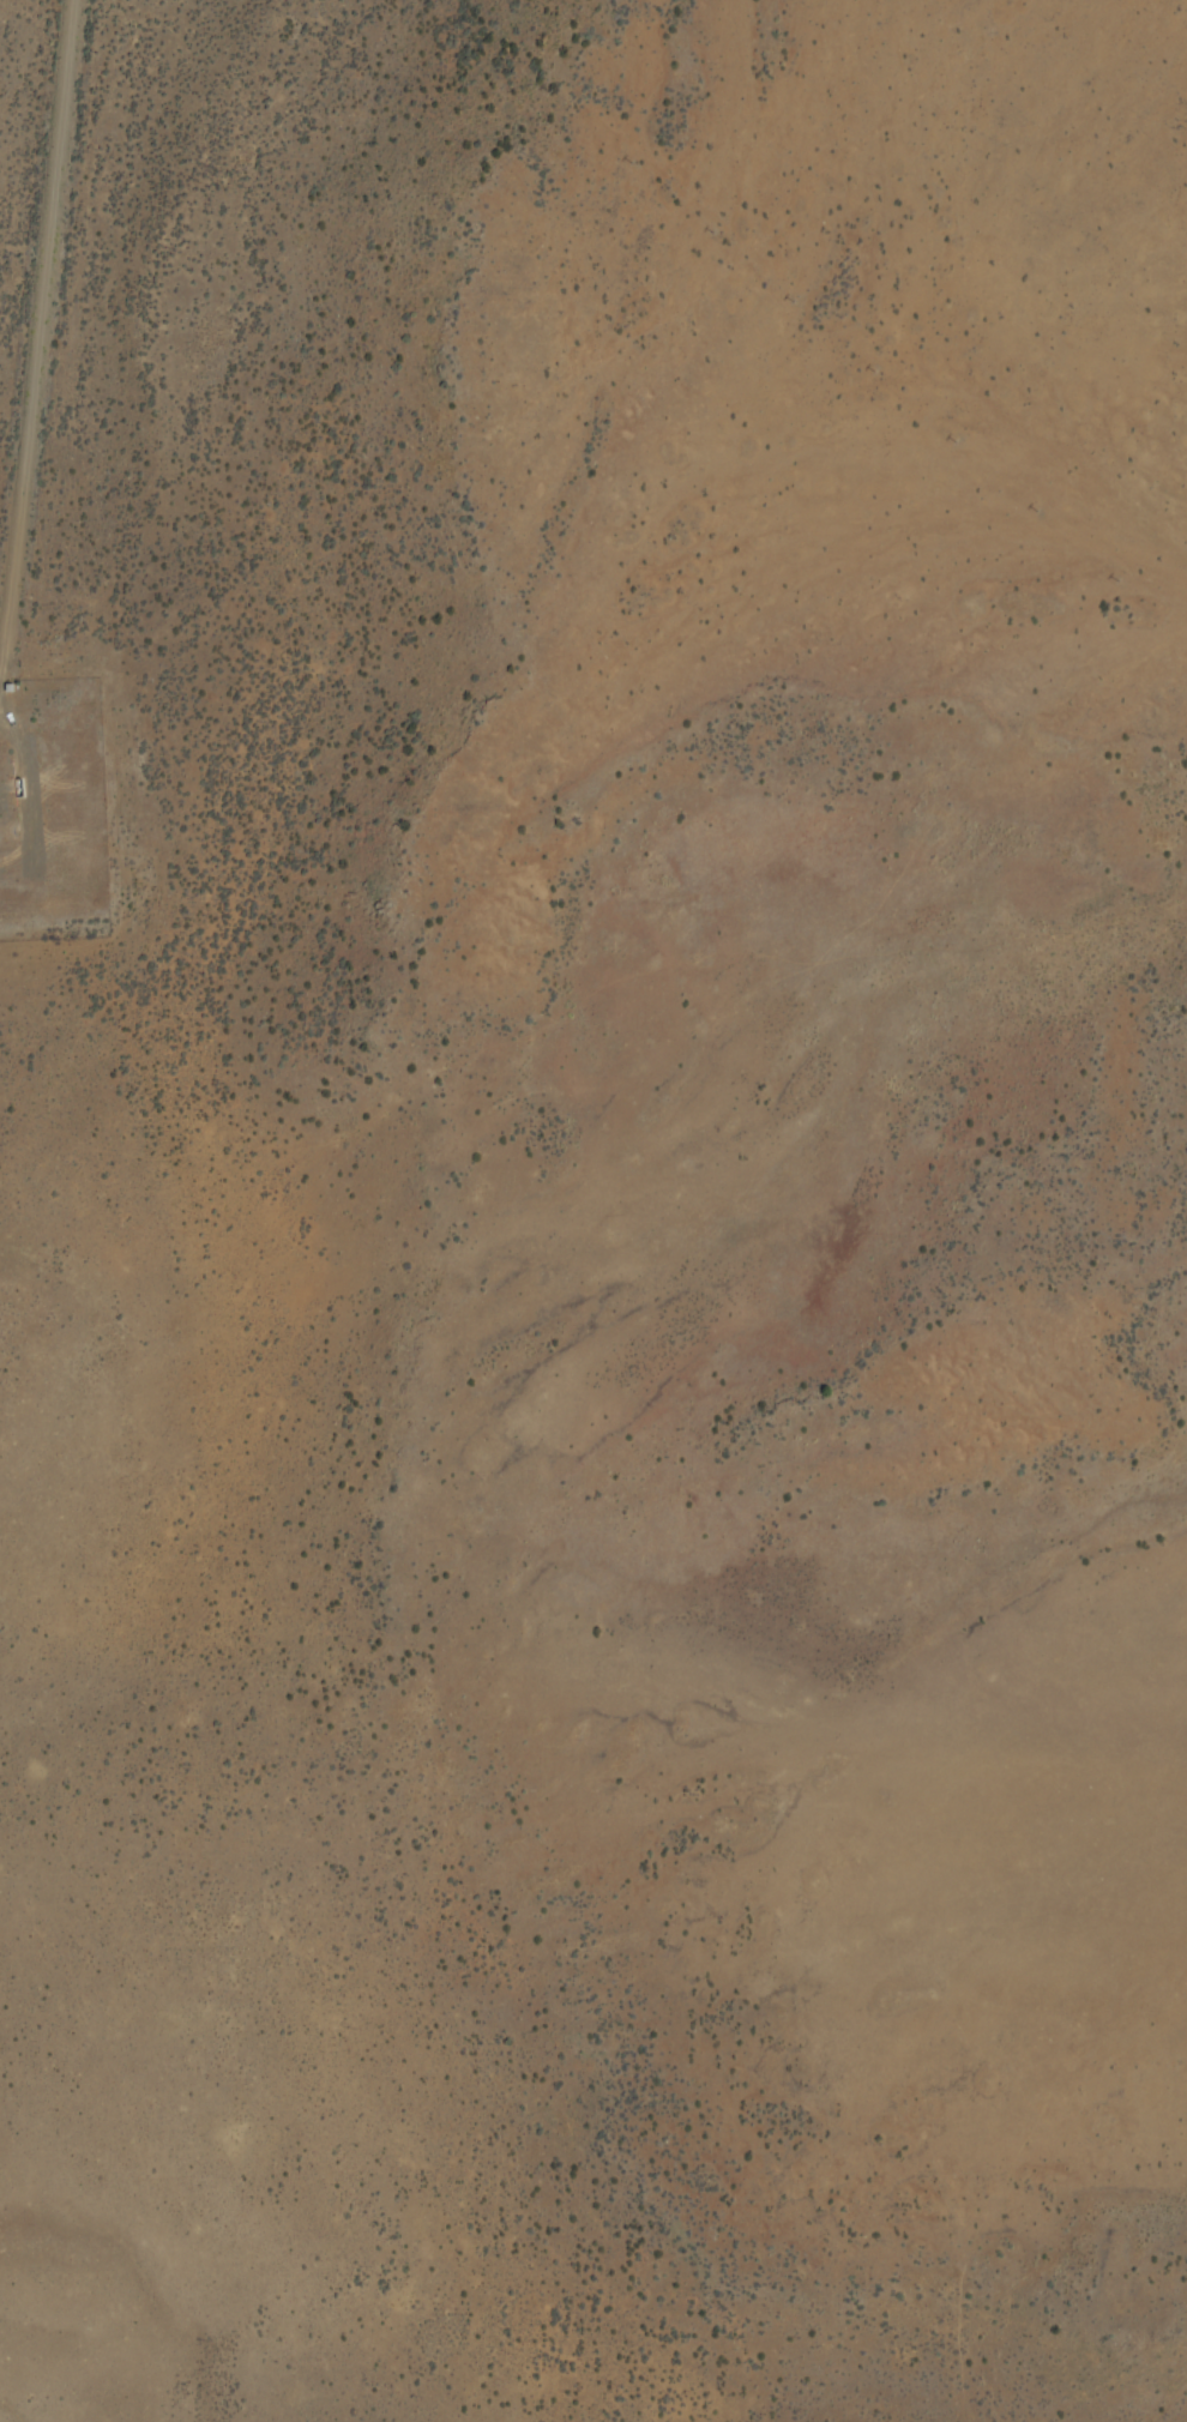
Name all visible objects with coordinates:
road: (18, 573)
road: (7, 2412)

